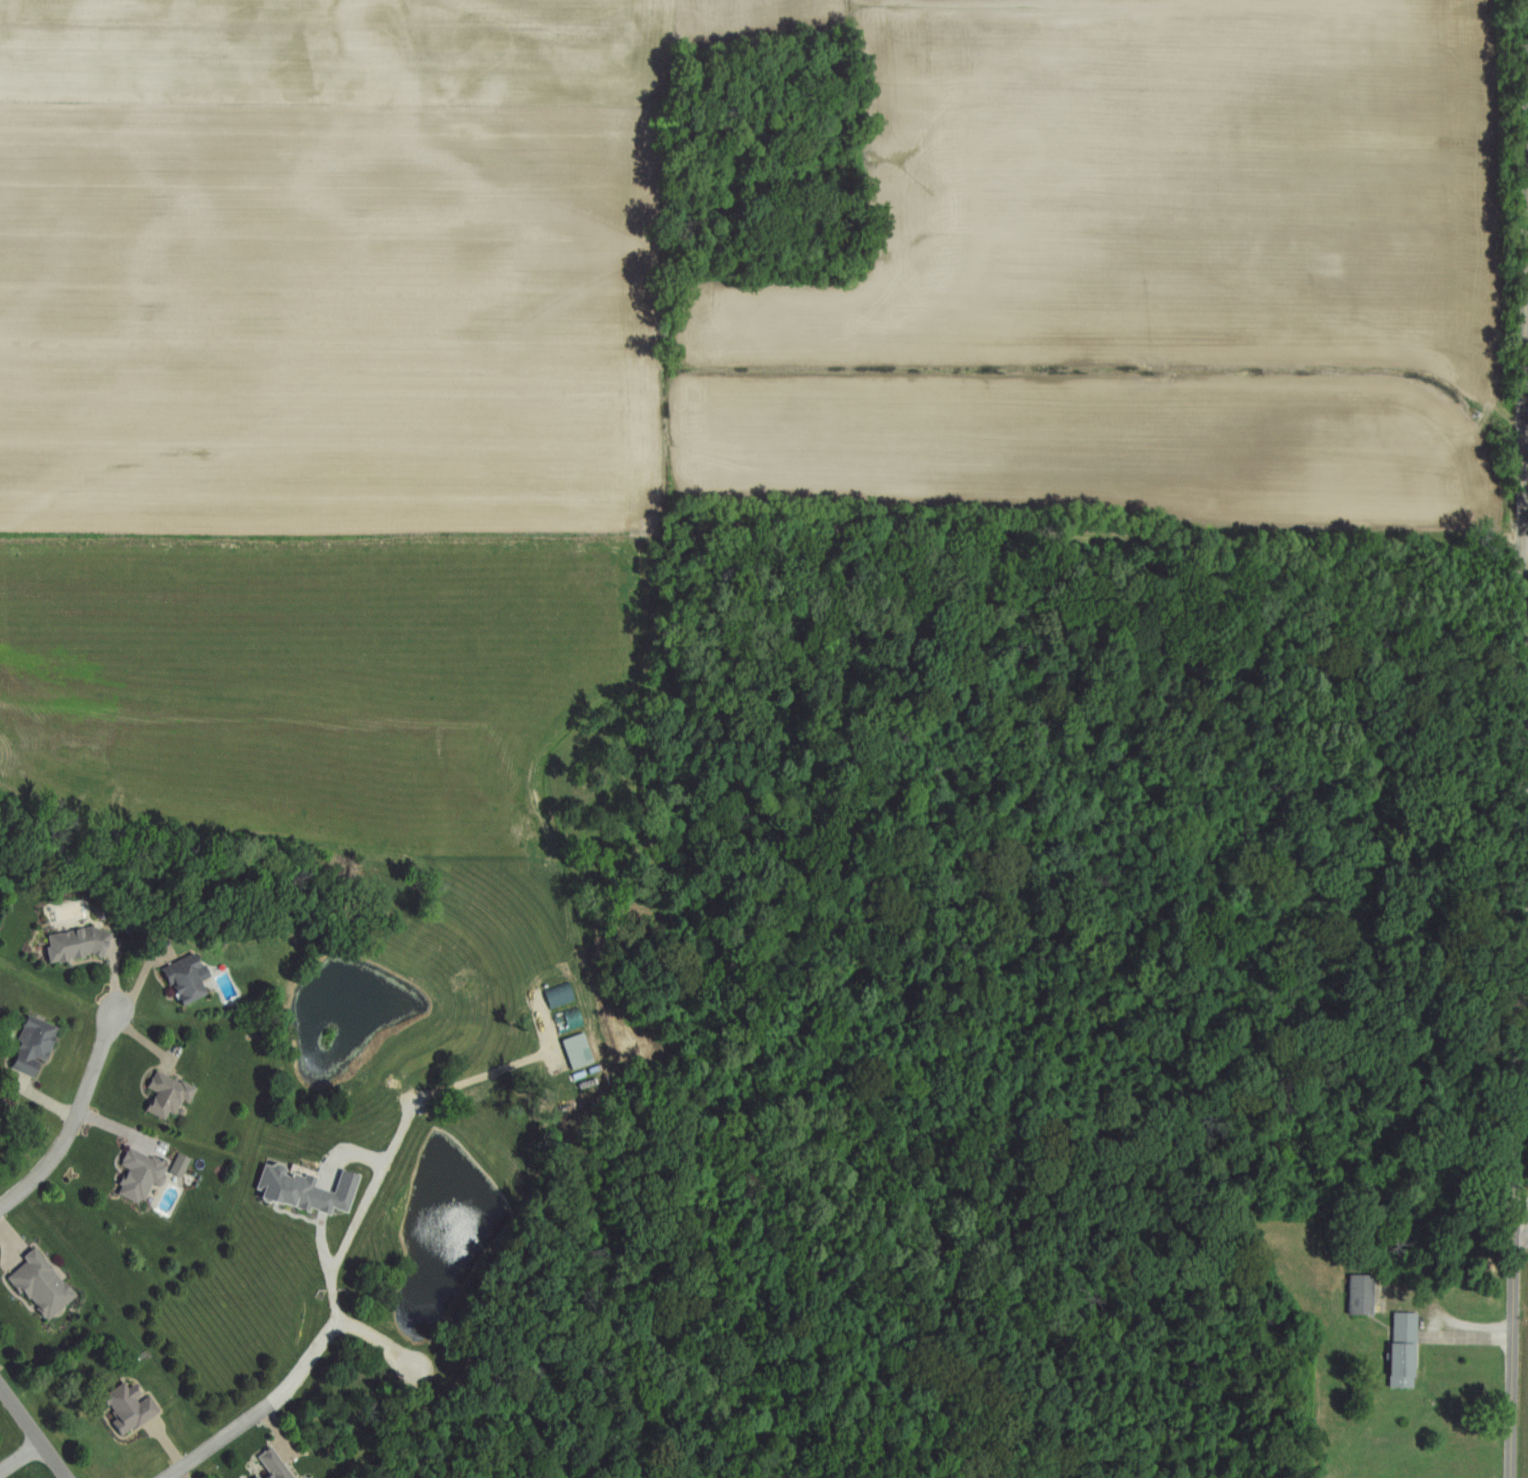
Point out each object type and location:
crop: (337, 49)
crop: (1131, 188)
crop: (332, 316)
road: (1526, 401)
crop: (1089, 445)
road: (1525, 543)
crop: (335, 704)
road: (1520, 819)
building: (76, 944)
building: (185, 979)
building: (31, 1047)
building: (577, 1050)
building: (167, 1094)
road: (75, 1119)
road: (393, 1147)
building: (179, 1165)
building: (139, 1175)
building: (303, 1190)
road: (1521, 1206)
building: (40, 1285)
building: (1360, 1295)
building: (1401, 1350)
road: (297, 1375)
building: (128, 1407)
road: (33, 1432)
road: (20, 1456)
building: (272, 1465)

